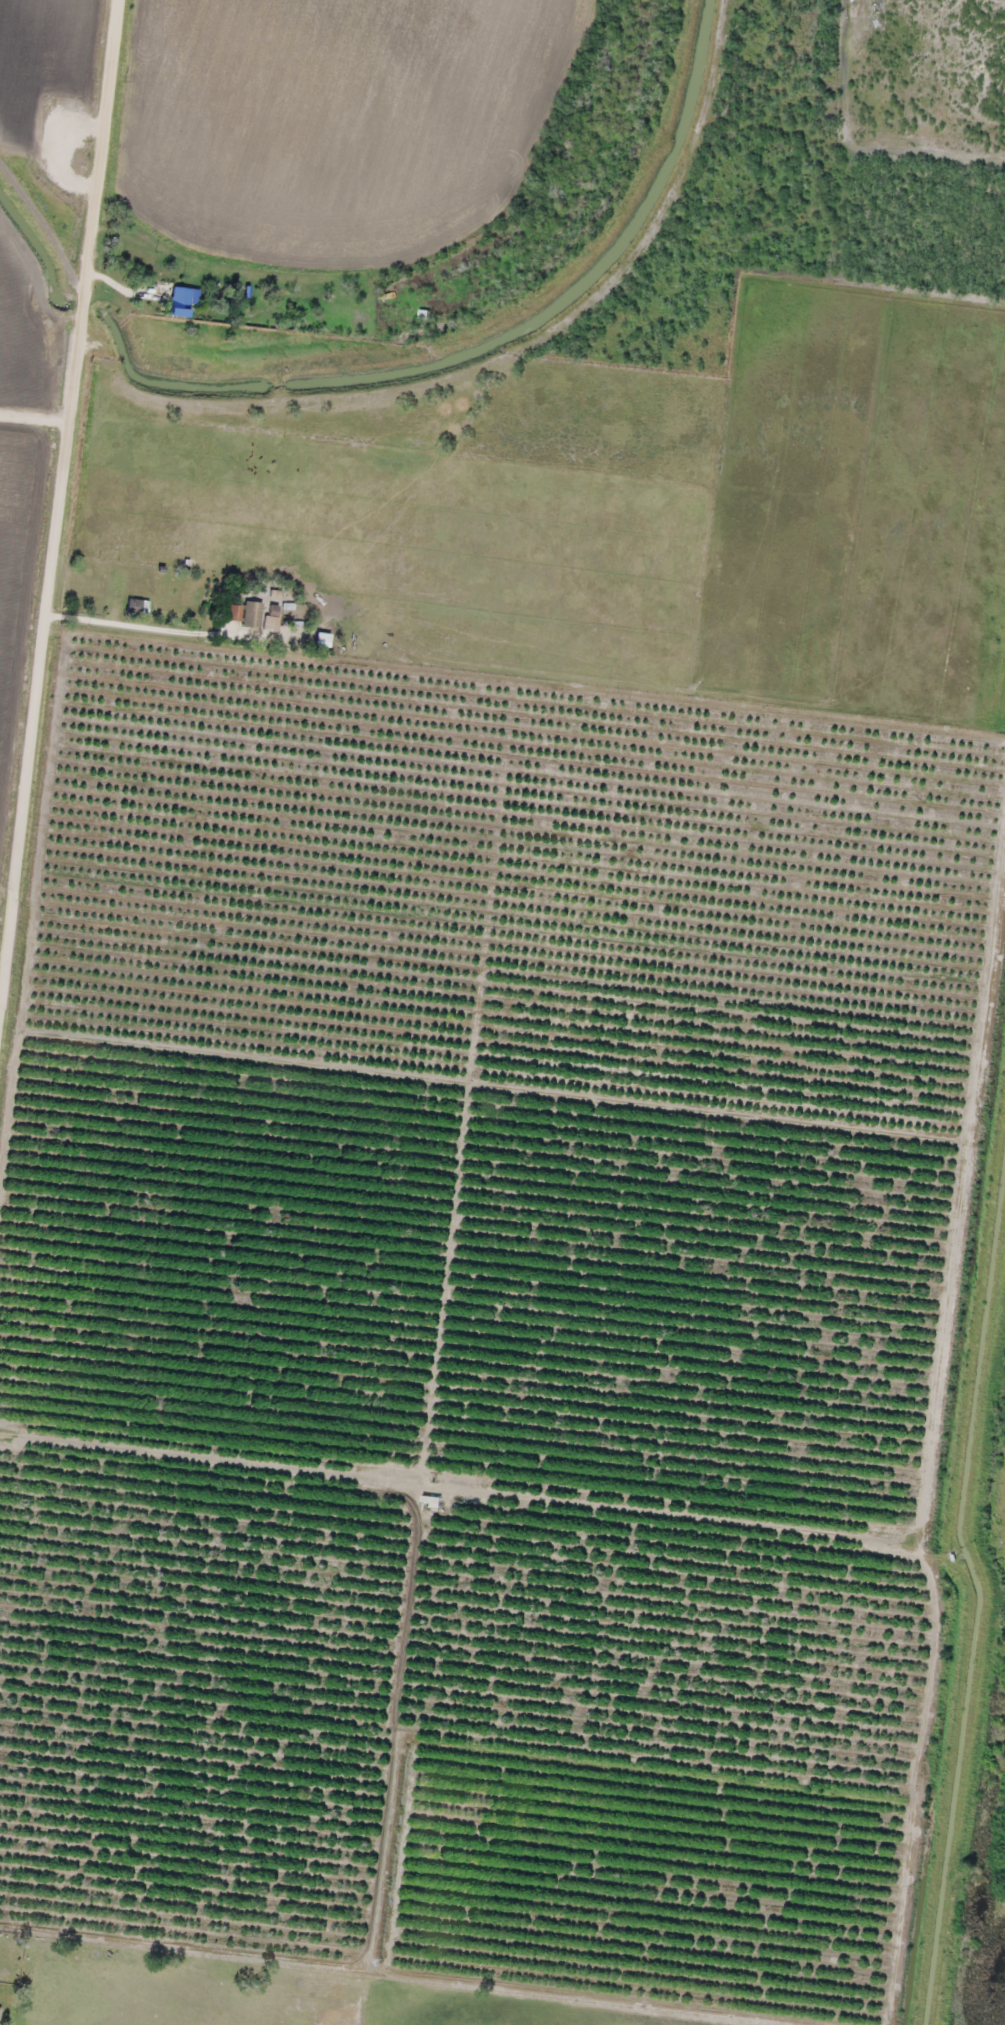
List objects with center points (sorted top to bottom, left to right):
building: (179, 300)
building: (423, 314)
road: (58, 504)
building: (137, 606)
building: (233, 611)
building: (252, 613)
building: (271, 622)
road: (119, 623)
building: (322, 638)
building: (430, 1501)

